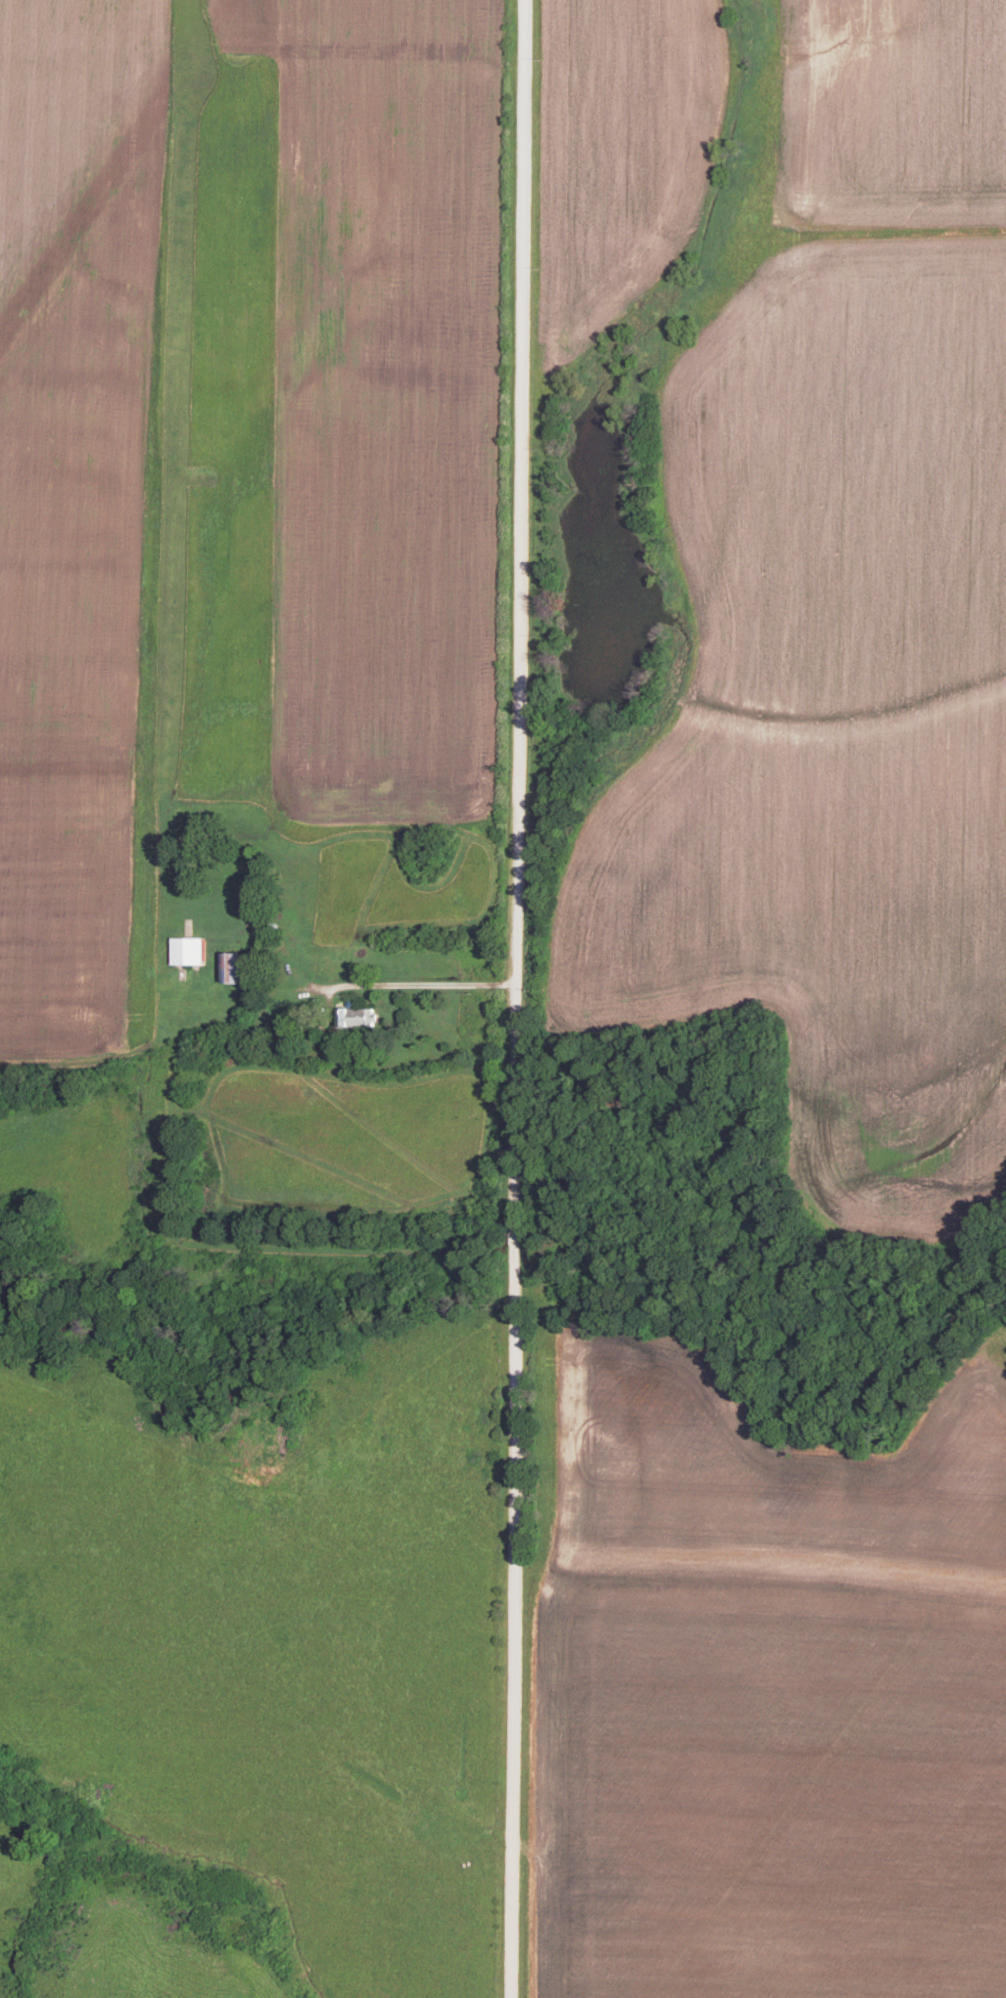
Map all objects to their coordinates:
airport runway: (114, 167)
airport runway: (174, 458)
airport taxiway: (83, 768)
airport hangar: (185, 952)
building: (185, 952)
building: (235, 964)
road: (390, 987)
road: (519, 998)
building: (359, 1014)

